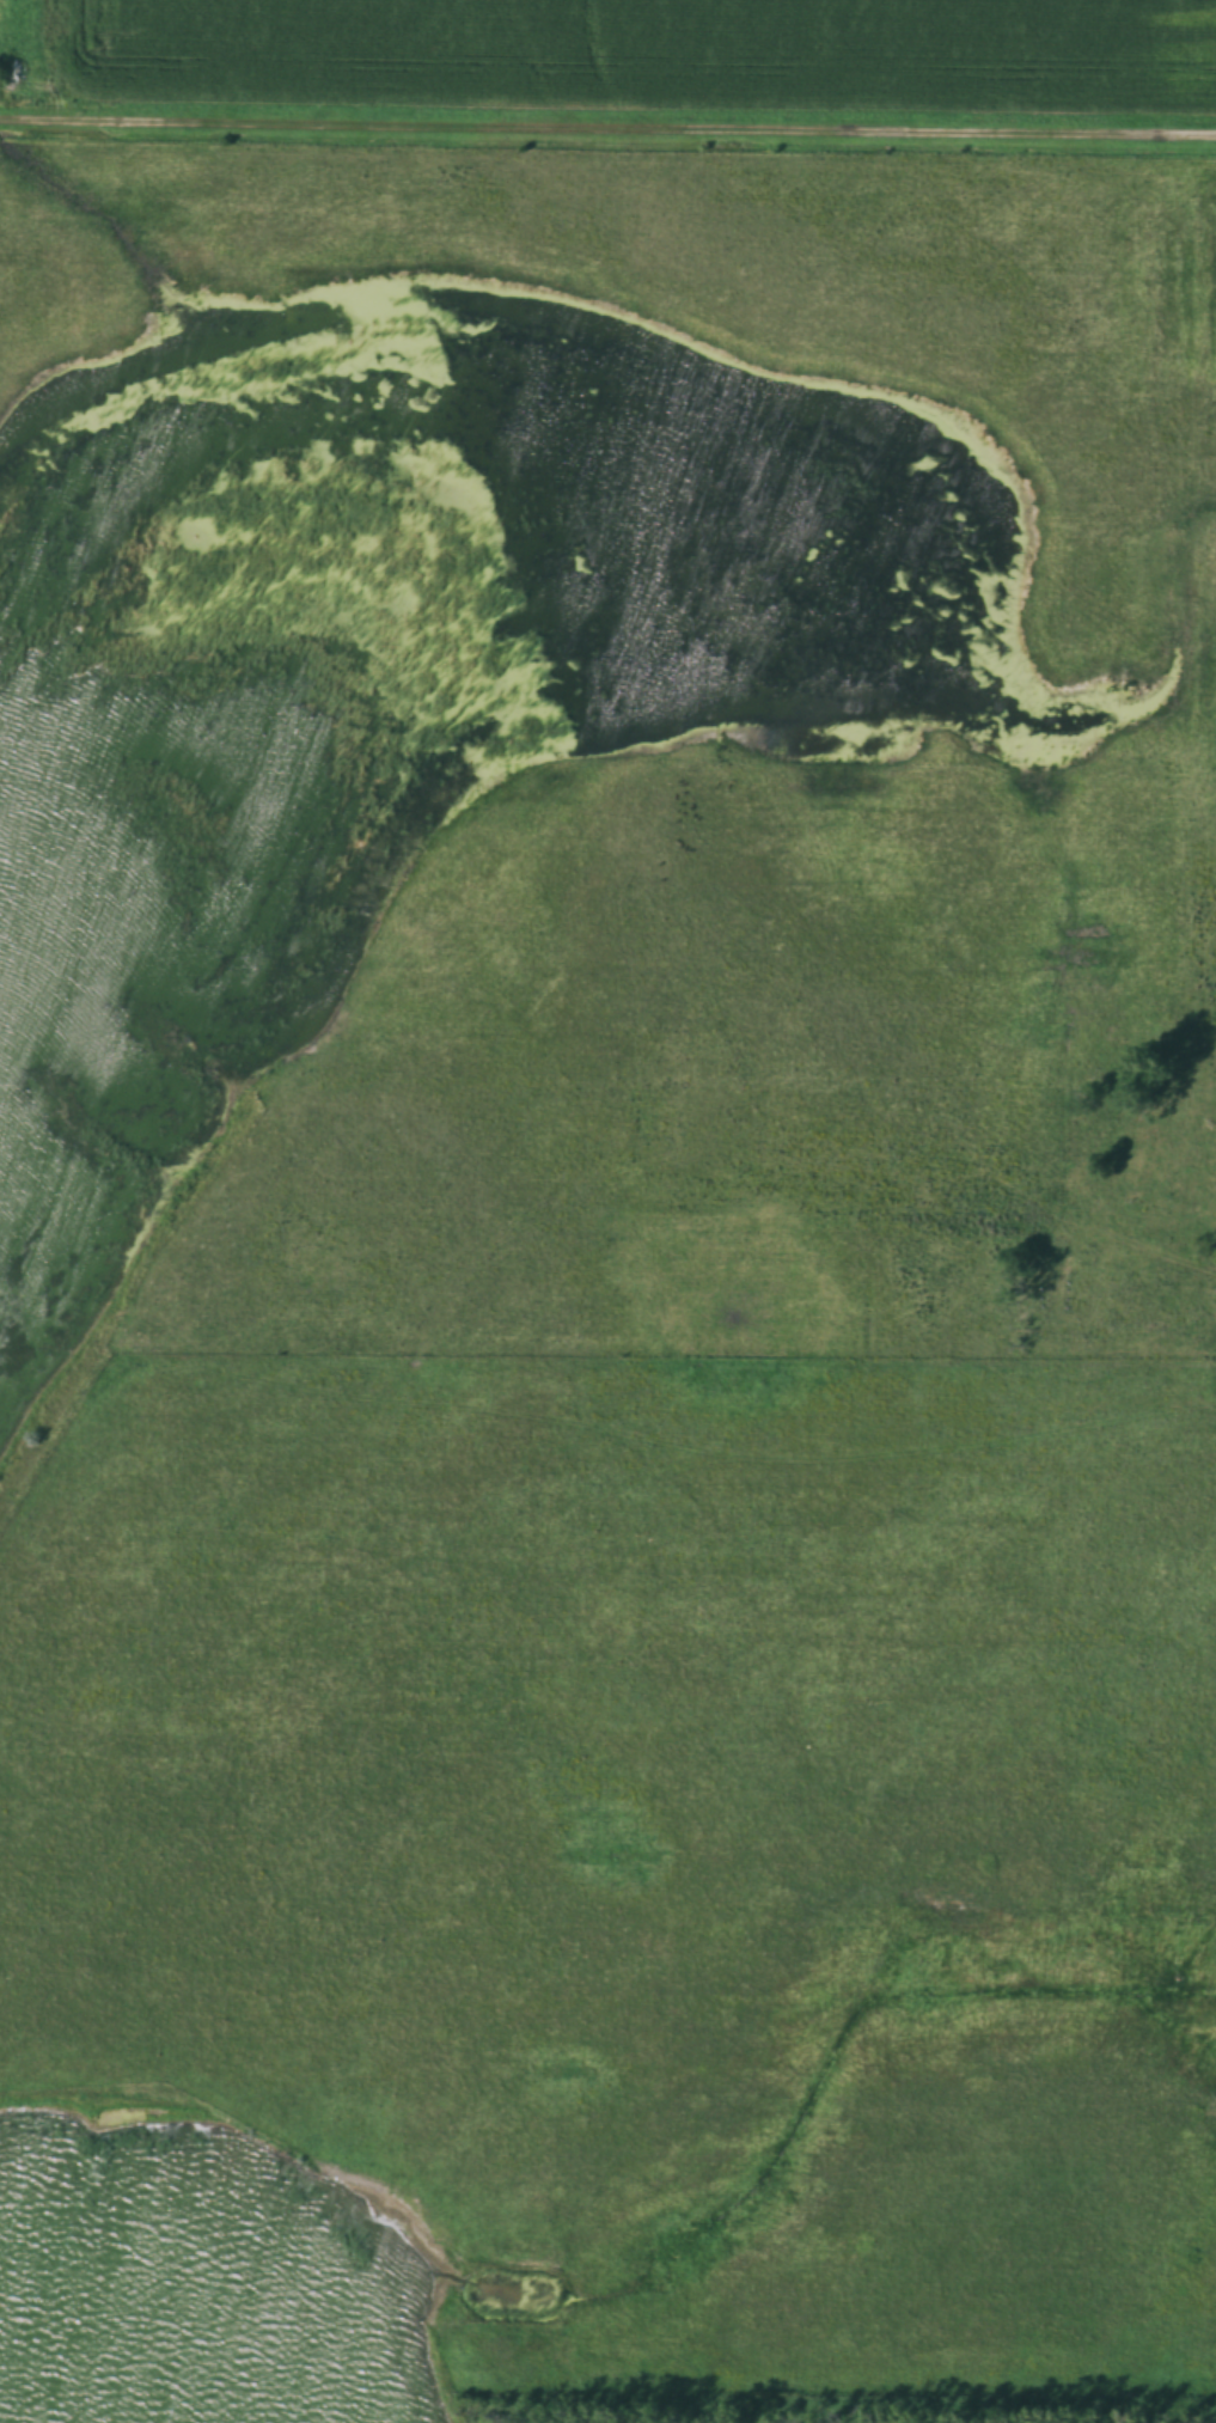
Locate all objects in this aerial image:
road: (607, 127)

